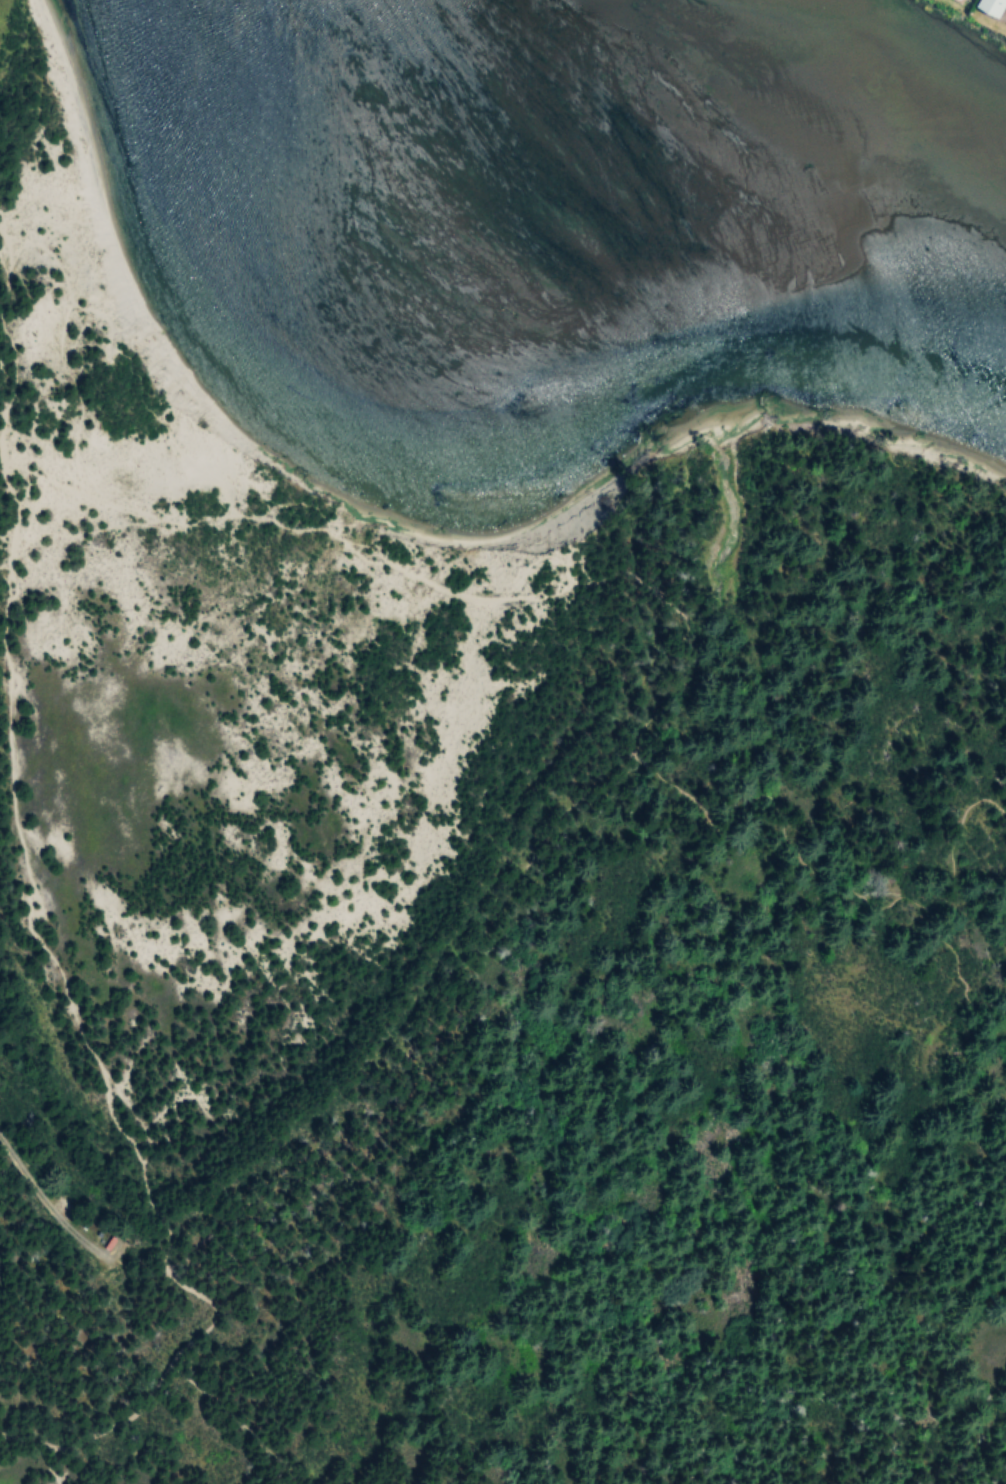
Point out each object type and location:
building: (989, 6)
river: (743, 145)

